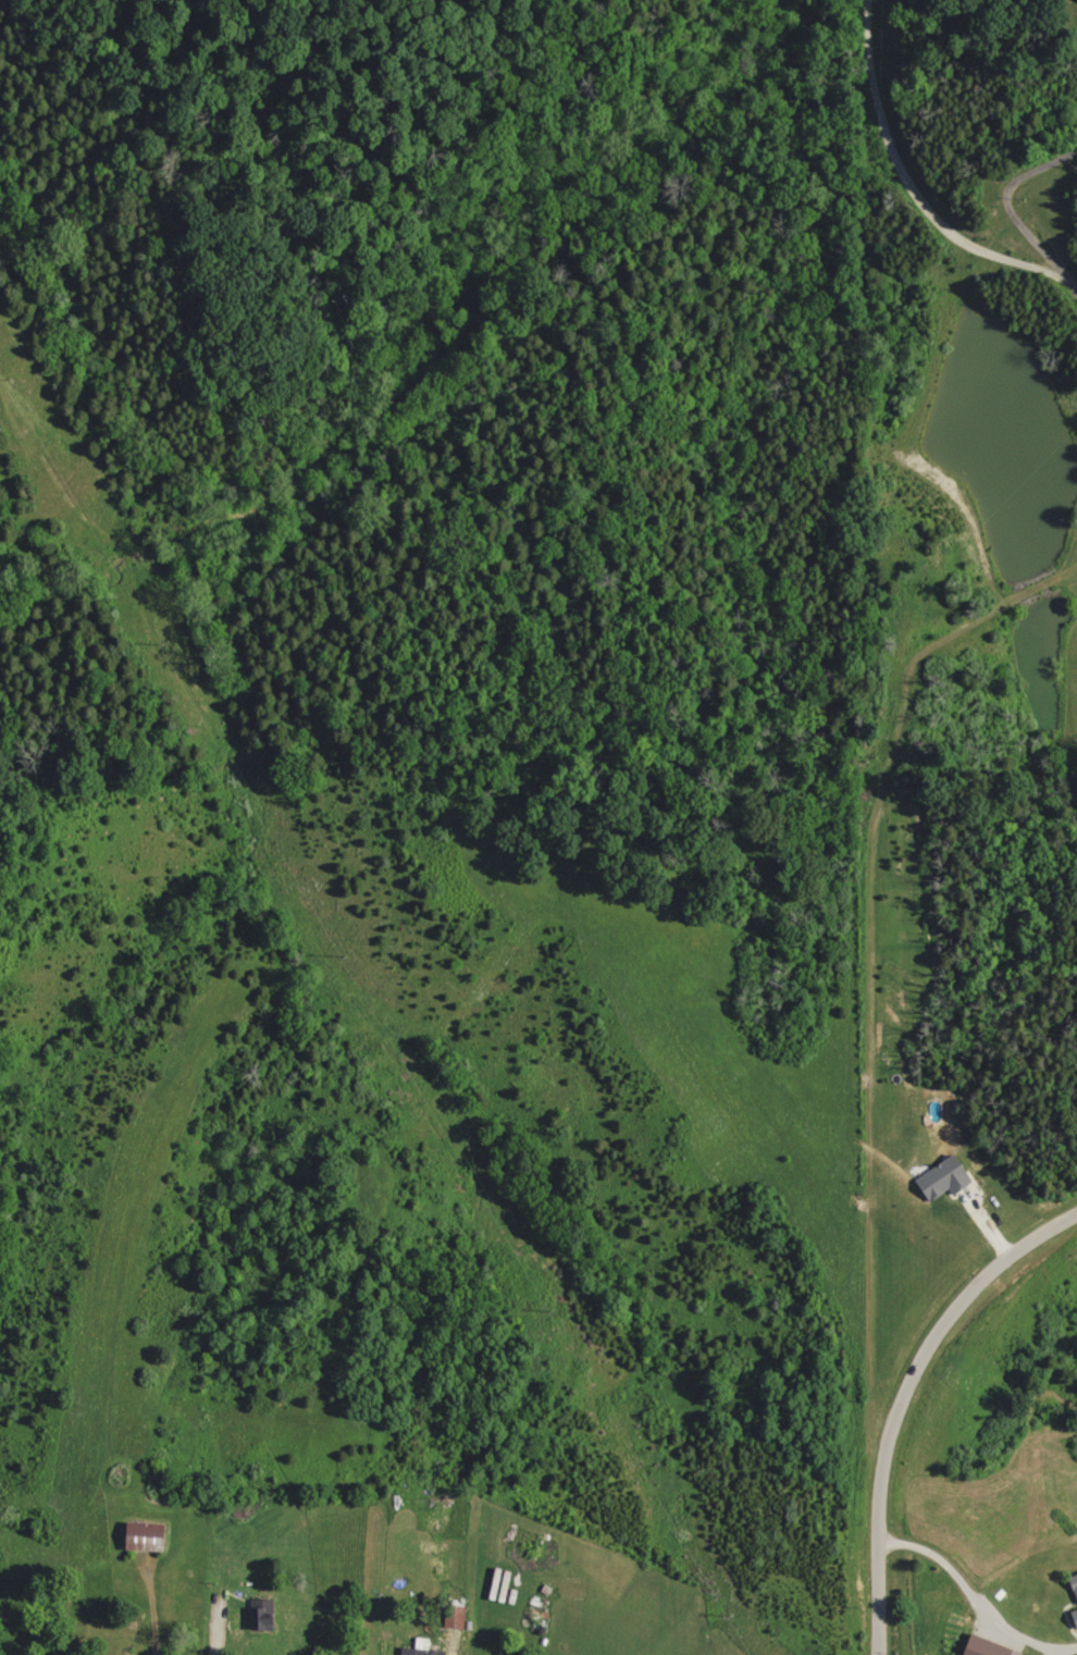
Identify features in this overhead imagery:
road: (1024, 172)
road: (906, 181)
road: (1049, 255)
building: (949, 1177)
road: (896, 1394)
building: (151, 1534)
building: (1076, 1577)
road: (974, 1598)
road: (149, 1608)
building: (1076, 1610)
building: (269, 1616)
building: (458, 1616)
road: (215, 1618)
building: (421, 1646)
building: (992, 1646)

